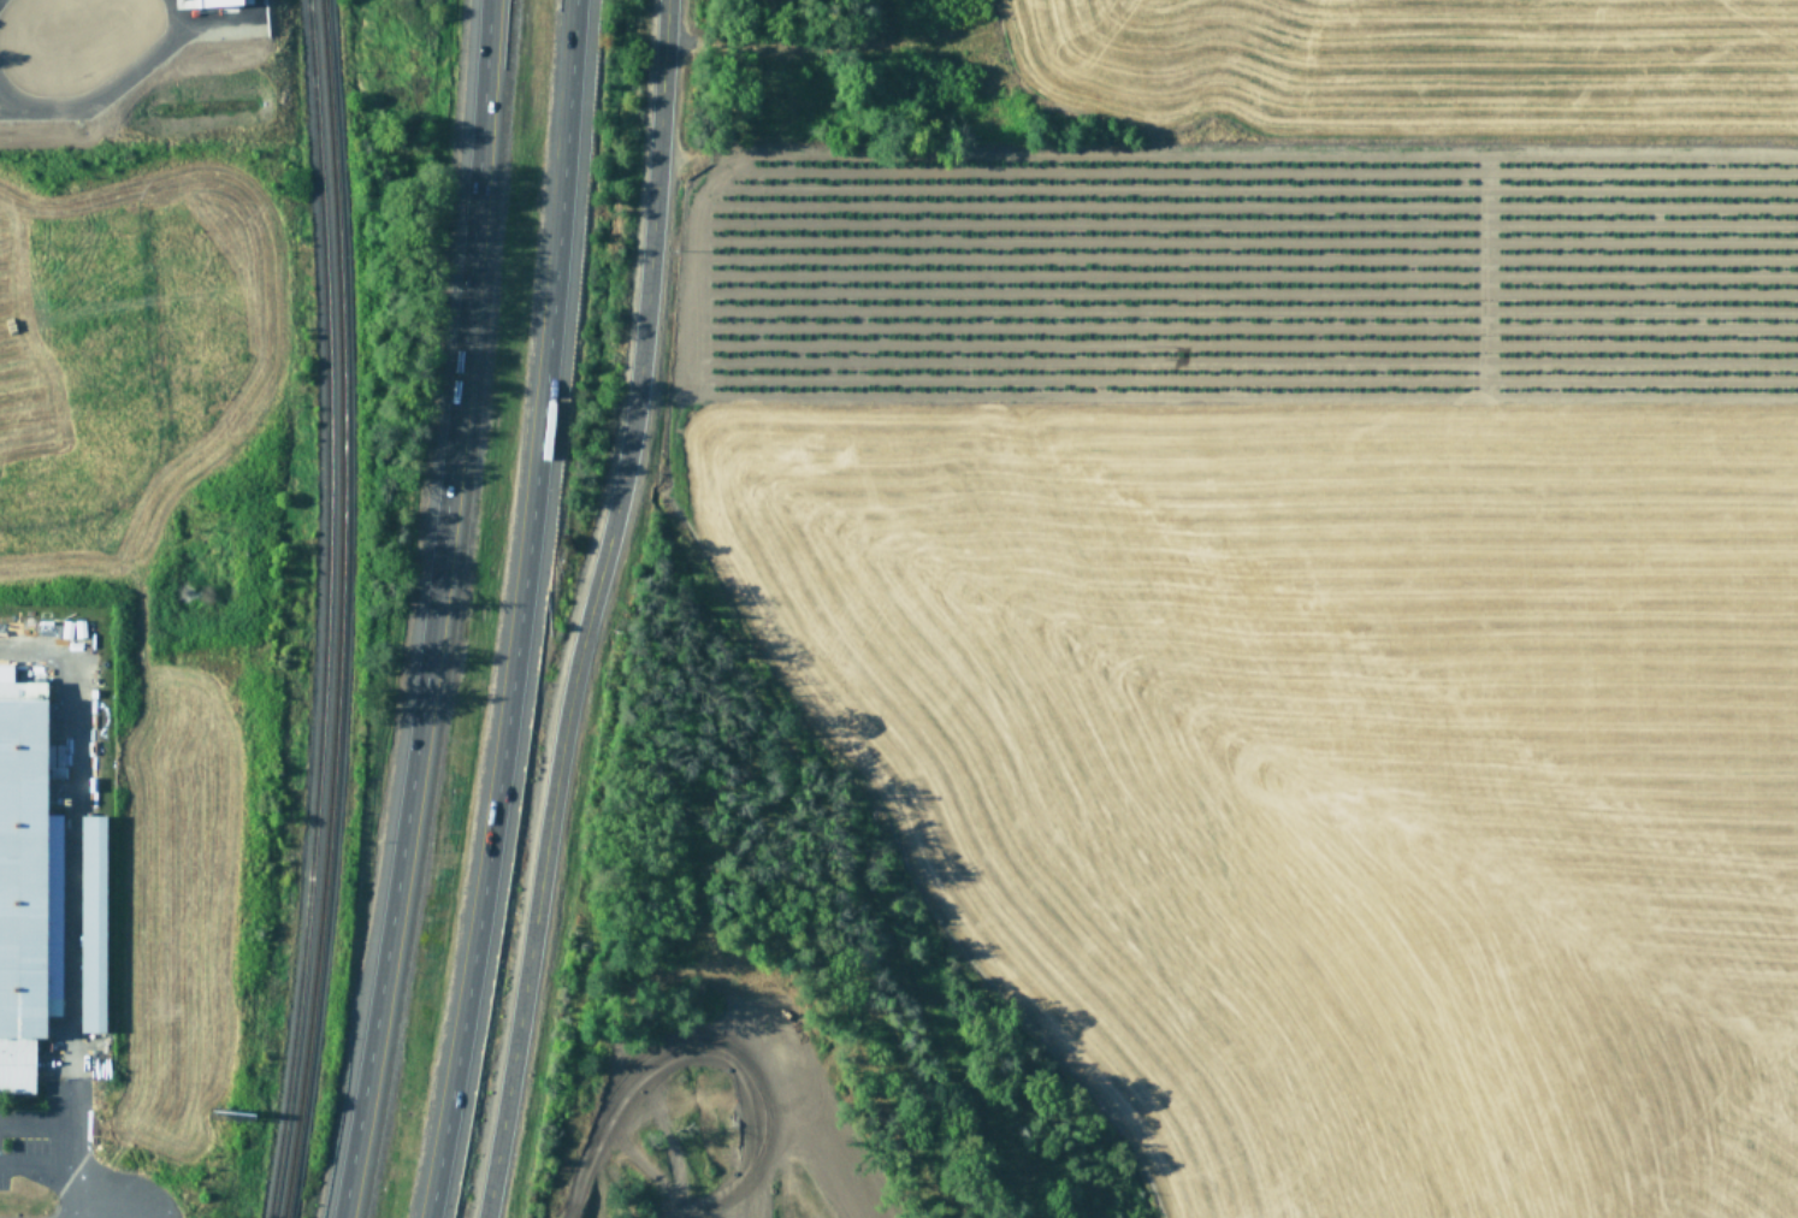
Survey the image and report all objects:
building: (215, 1)
crop: (1312, 580)
railway: (338, 609)
road: (590, 609)
railway: (325, 610)
road: (521, 610)
road: (432, 611)
road: (71, 830)
building: (19, 888)
building: (91, 923)
park: (702, 1099)
road: (37, 1129)
road: (70, 1151)
road: (34, 1165)

